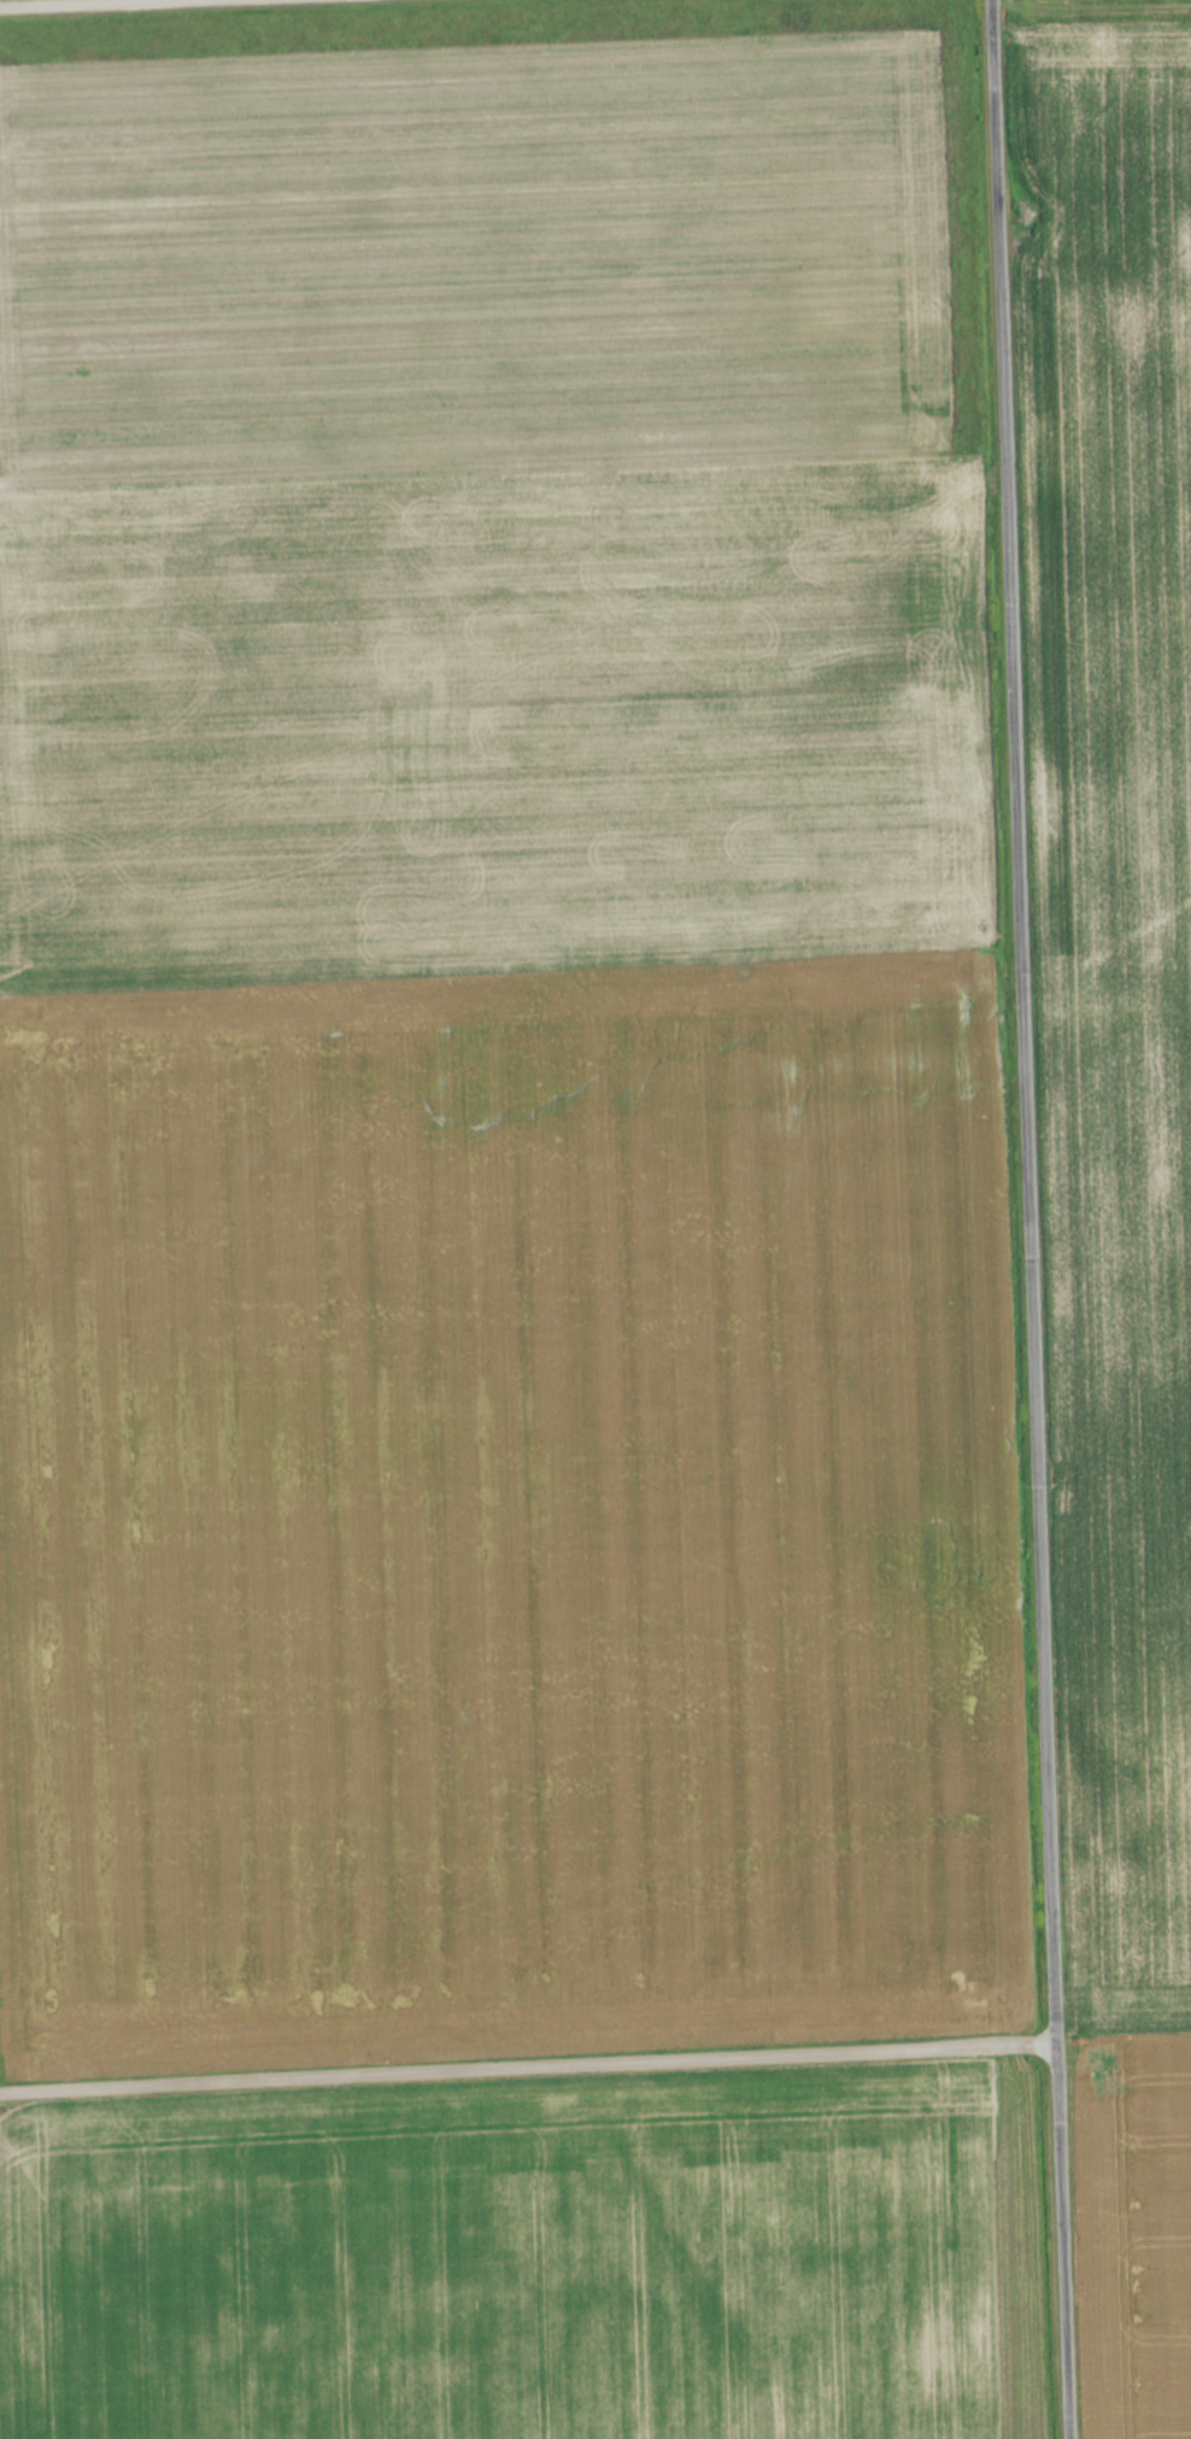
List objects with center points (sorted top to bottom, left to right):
road: (4, 0)
crop: (489, 489)
crop: (1122, 918)
road: (1032, 1218)
crop: (506, 1517)
road: (529, 2061)
crop: (1138, 2229)
crop: (508, 2270)

